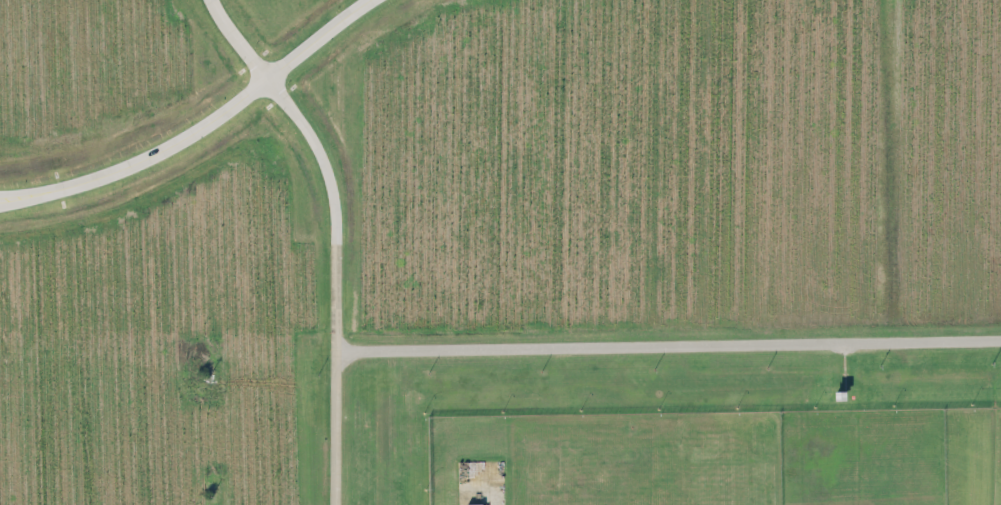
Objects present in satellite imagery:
road: (193, 124)
crop: (450, 200)
road: (334, 233)
road: (668, 345)
road: (496, 496)
building: (473, 504)

